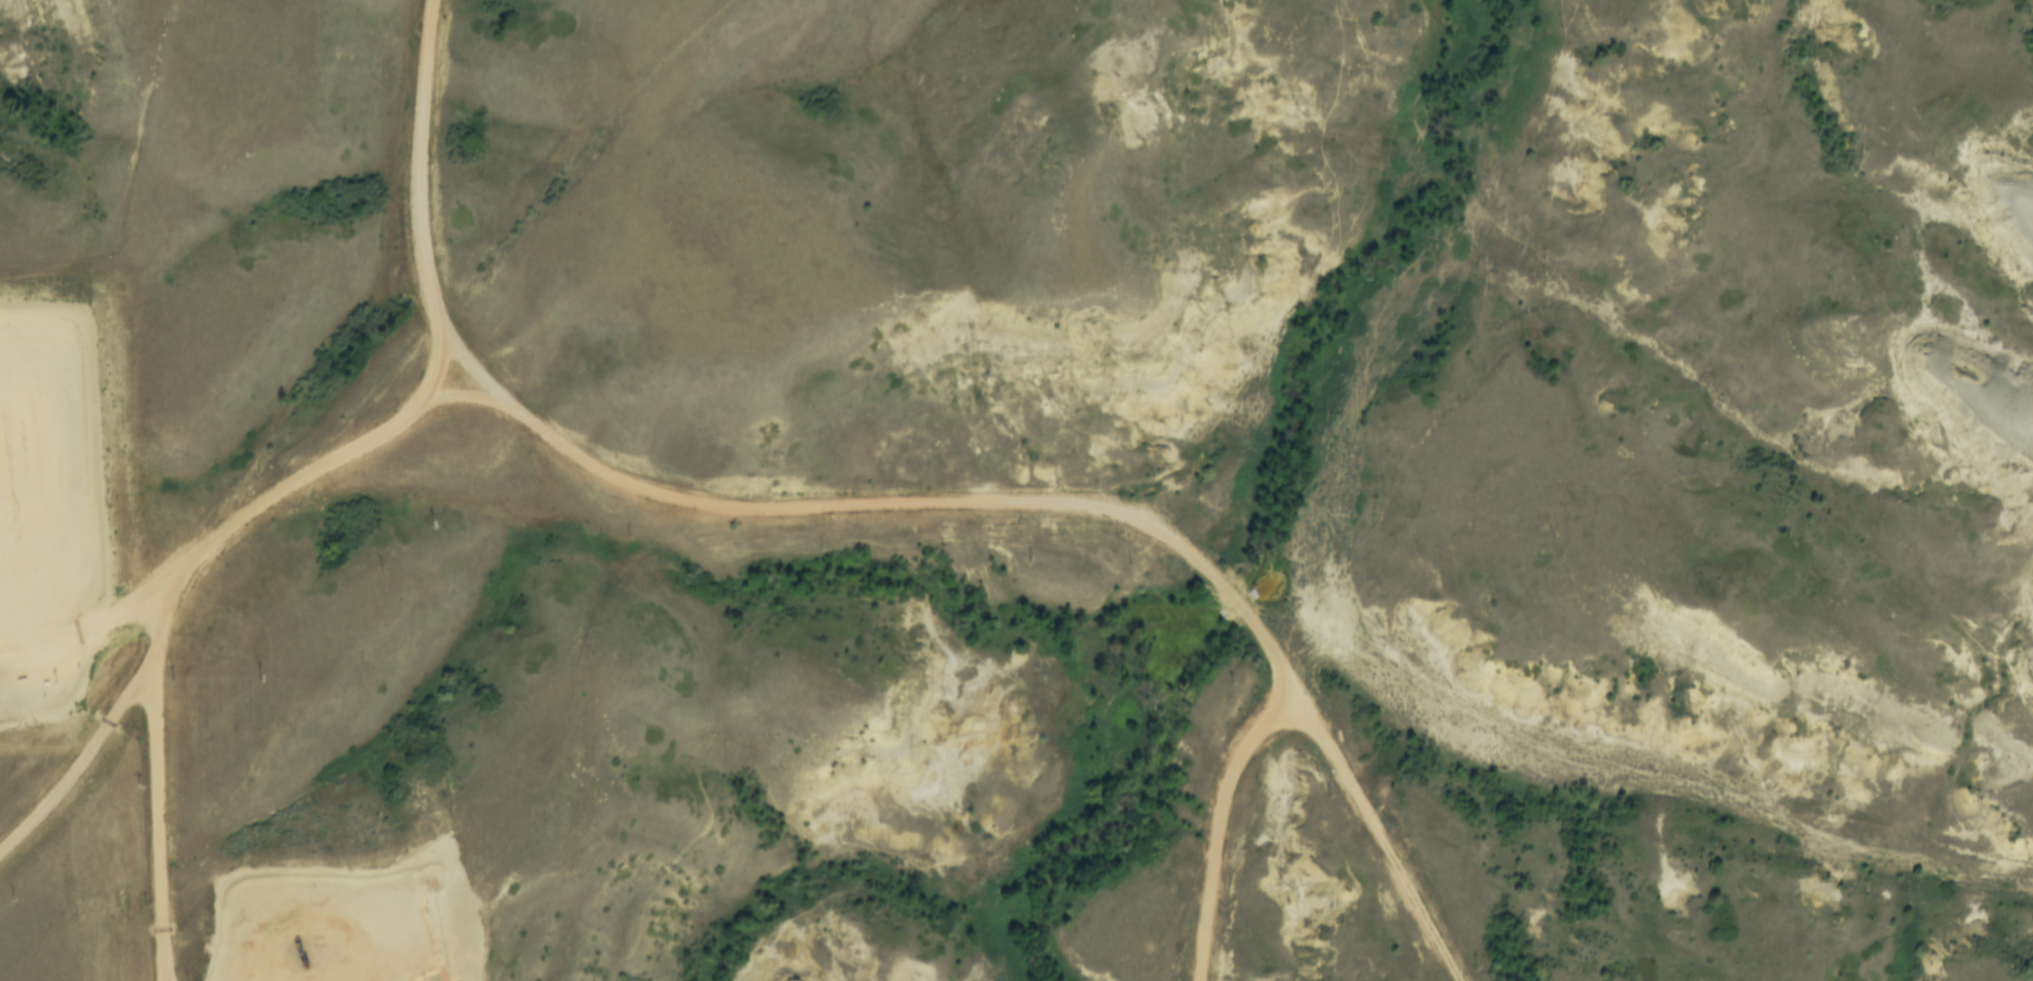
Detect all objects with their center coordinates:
road: (329, 458)
road: (1034, 509)
road: (156, 813)
road: (1221, 827)
petroleum well: (297, 945)
road: (408, 962)

